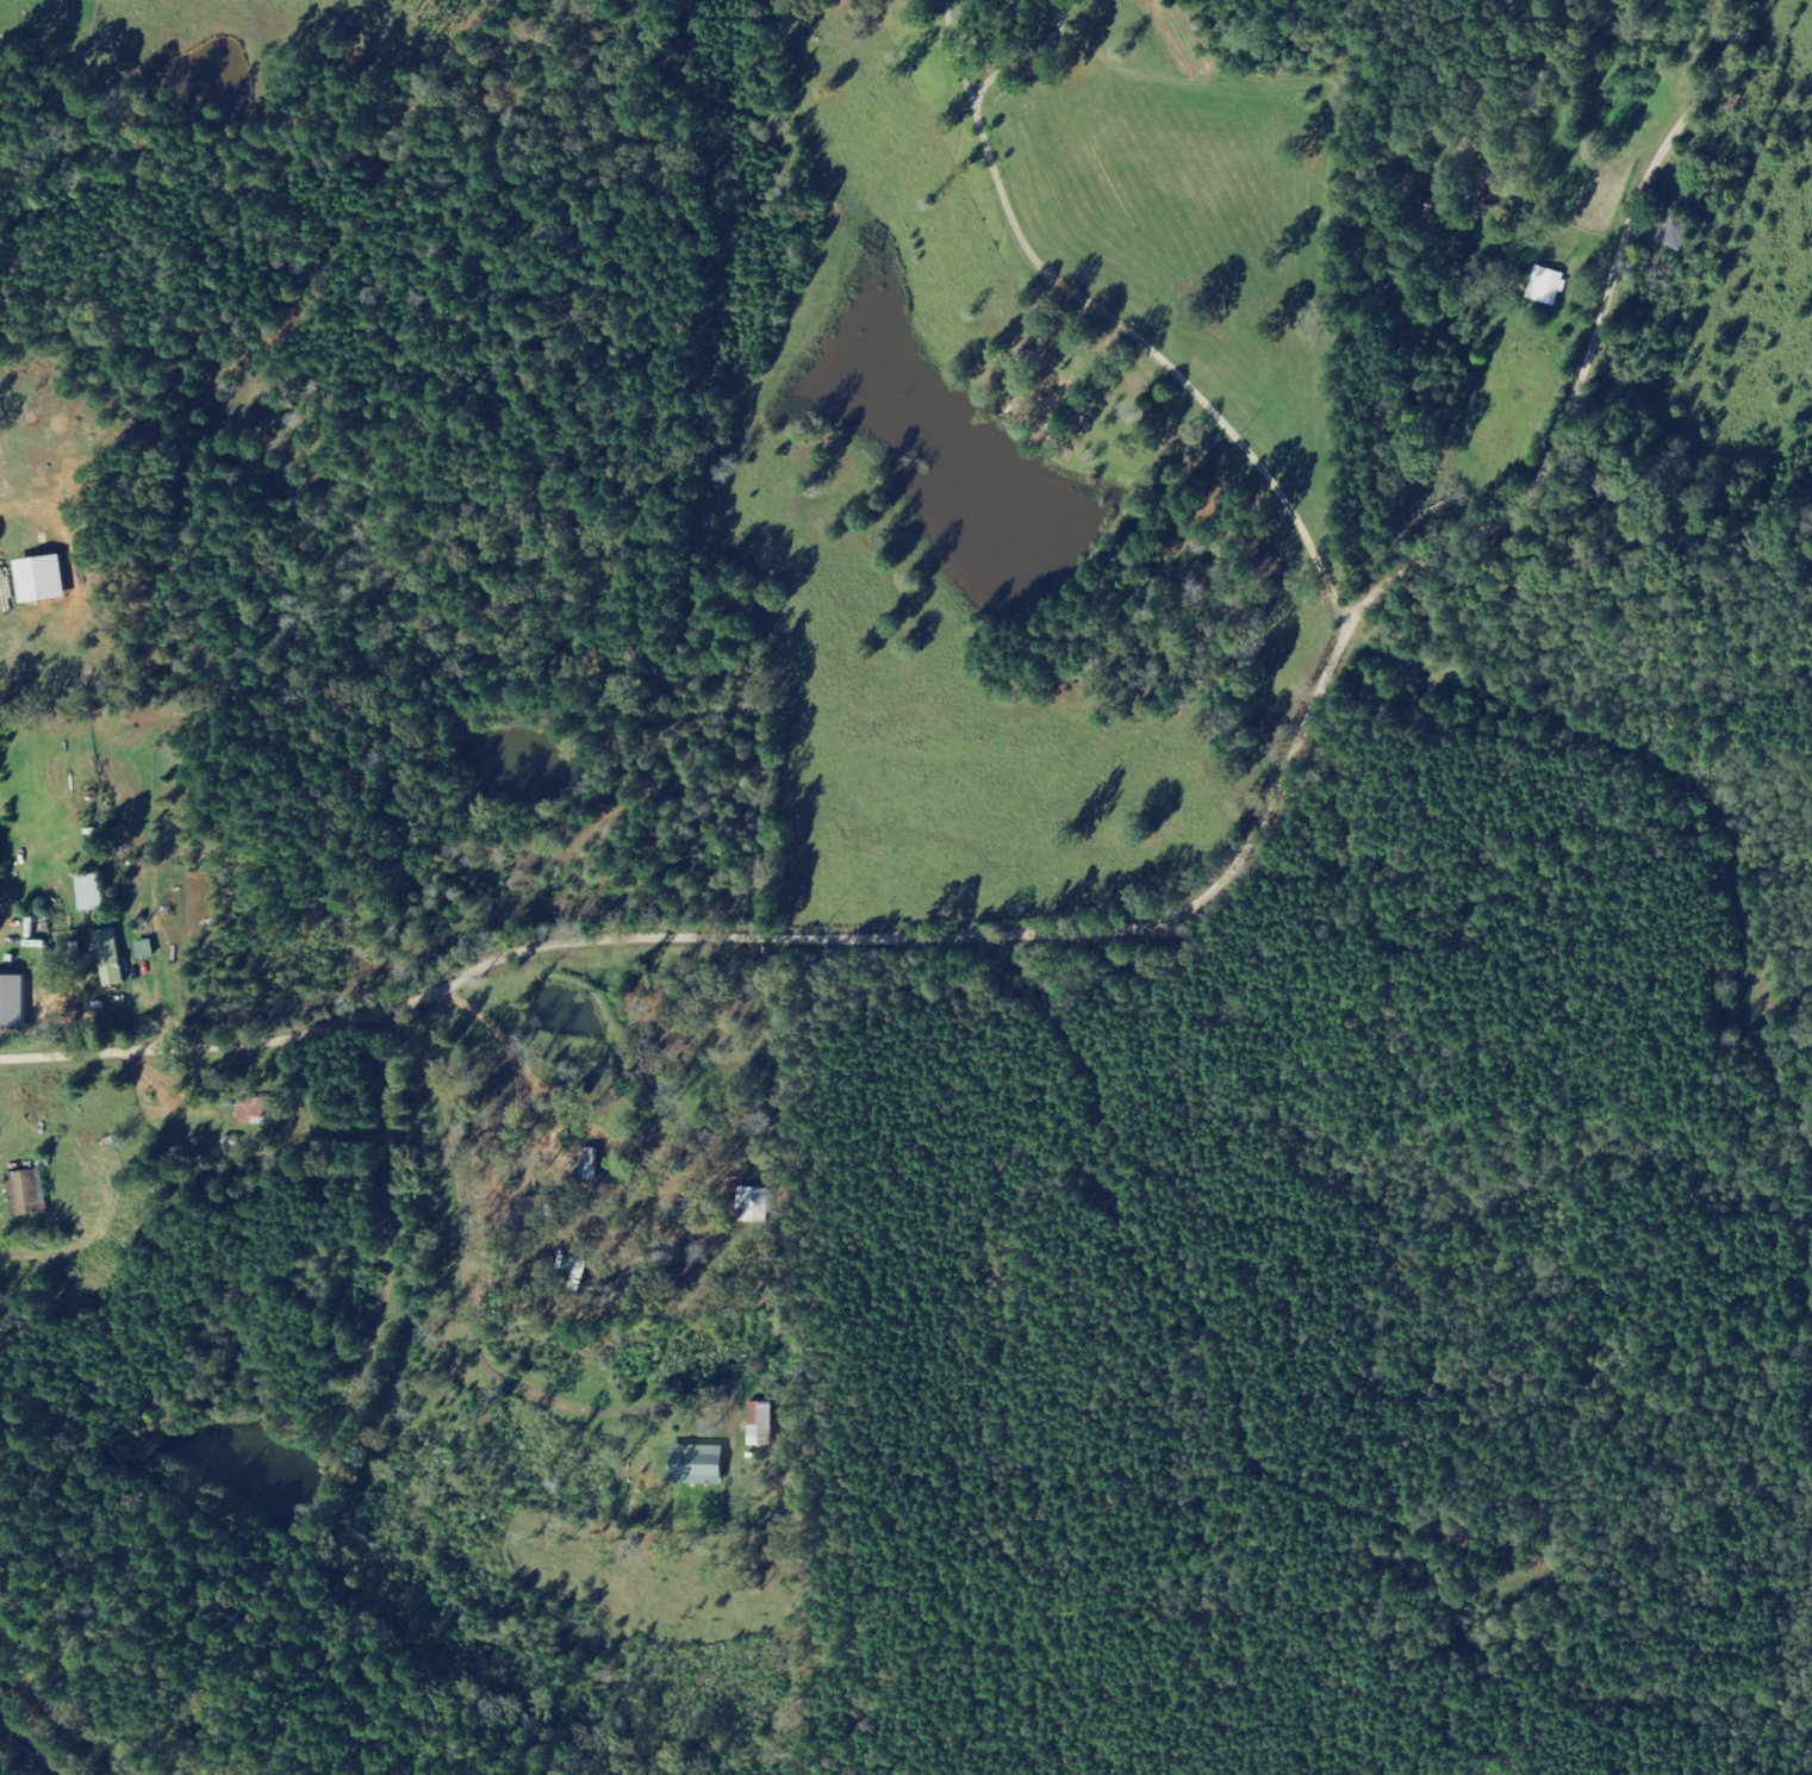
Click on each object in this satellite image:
building: (1550, 286)
road: (1365, 519)
building: (45, 580)
road: (1326, 749)
building: (94, 893)
building: (113, 958)
building: (15, 1001)
road: (642, 1088)
building: (261, 1110)
building: (30, 1194)
building: (754, 1204)
building: (762, 1425)
building: (700, 1465)
road: (27, 1746)

